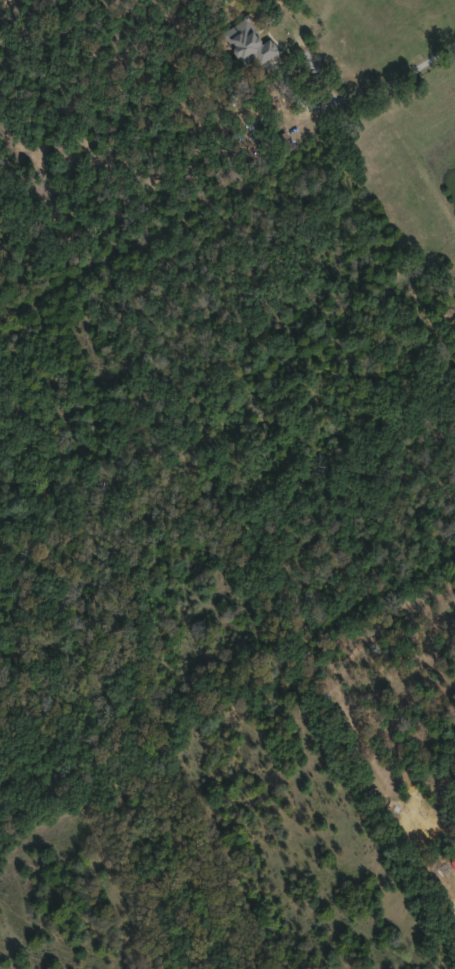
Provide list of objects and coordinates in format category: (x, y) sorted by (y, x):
building: (250, 42)
road: (393, 78)

